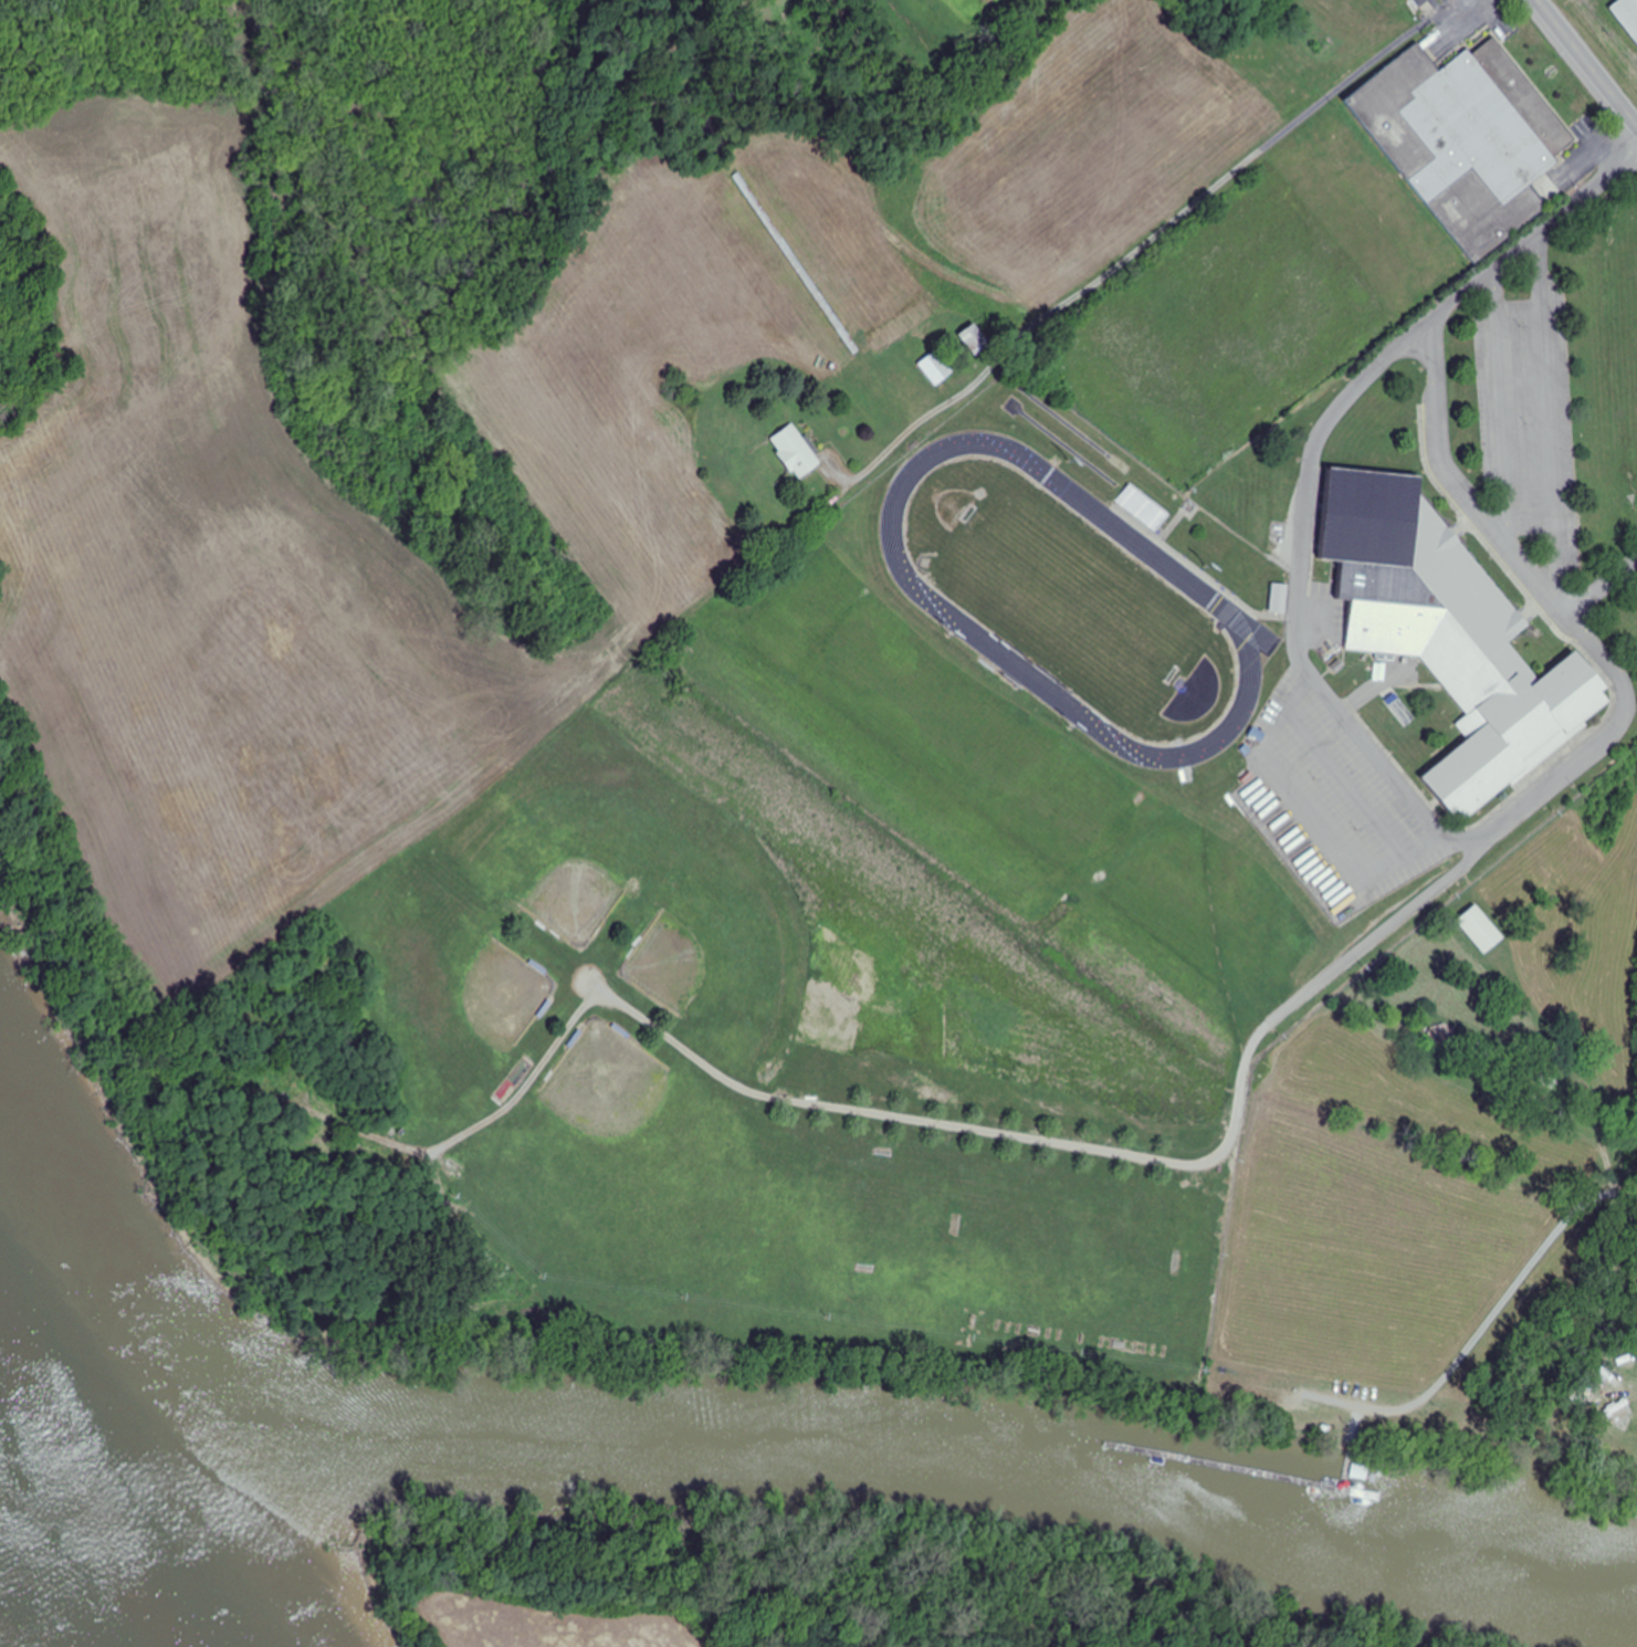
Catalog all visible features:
building: (1627, 14)
road: (1577, 51)
flagpole: (1546, 76)
road: (1627, 115)
building: (1468, 135)
road: (1241, 167)
building: (975, 339)
road: (1378, 364)
building: (936, 367)
road: (1503, 406)
road: (1547, 413)
building: (796, 452)
road: (1459, 481)
building: (1142, 505)
road: (1604, 586)
park: (1068, 591)
building: (1280, 596)
track: (1211, 598)
building: (1450, 631)
flagpole: (1538, 632)
road: (1372, 688)
road: (1601, 747)
road: (1385, 769)
road: (1346, 784)
road: (1316, 812)
park: (566, 817)
building: (1481, 931)
park: (744, 950)
park: (454, 1003)
road: (1440, 1020)
building: (1444, 1036)
road: (1096, 1151)
park: (620, 1167)
road: (1490, 1316)
pier: (1242, 1469)
pier: (1346, 1477)

